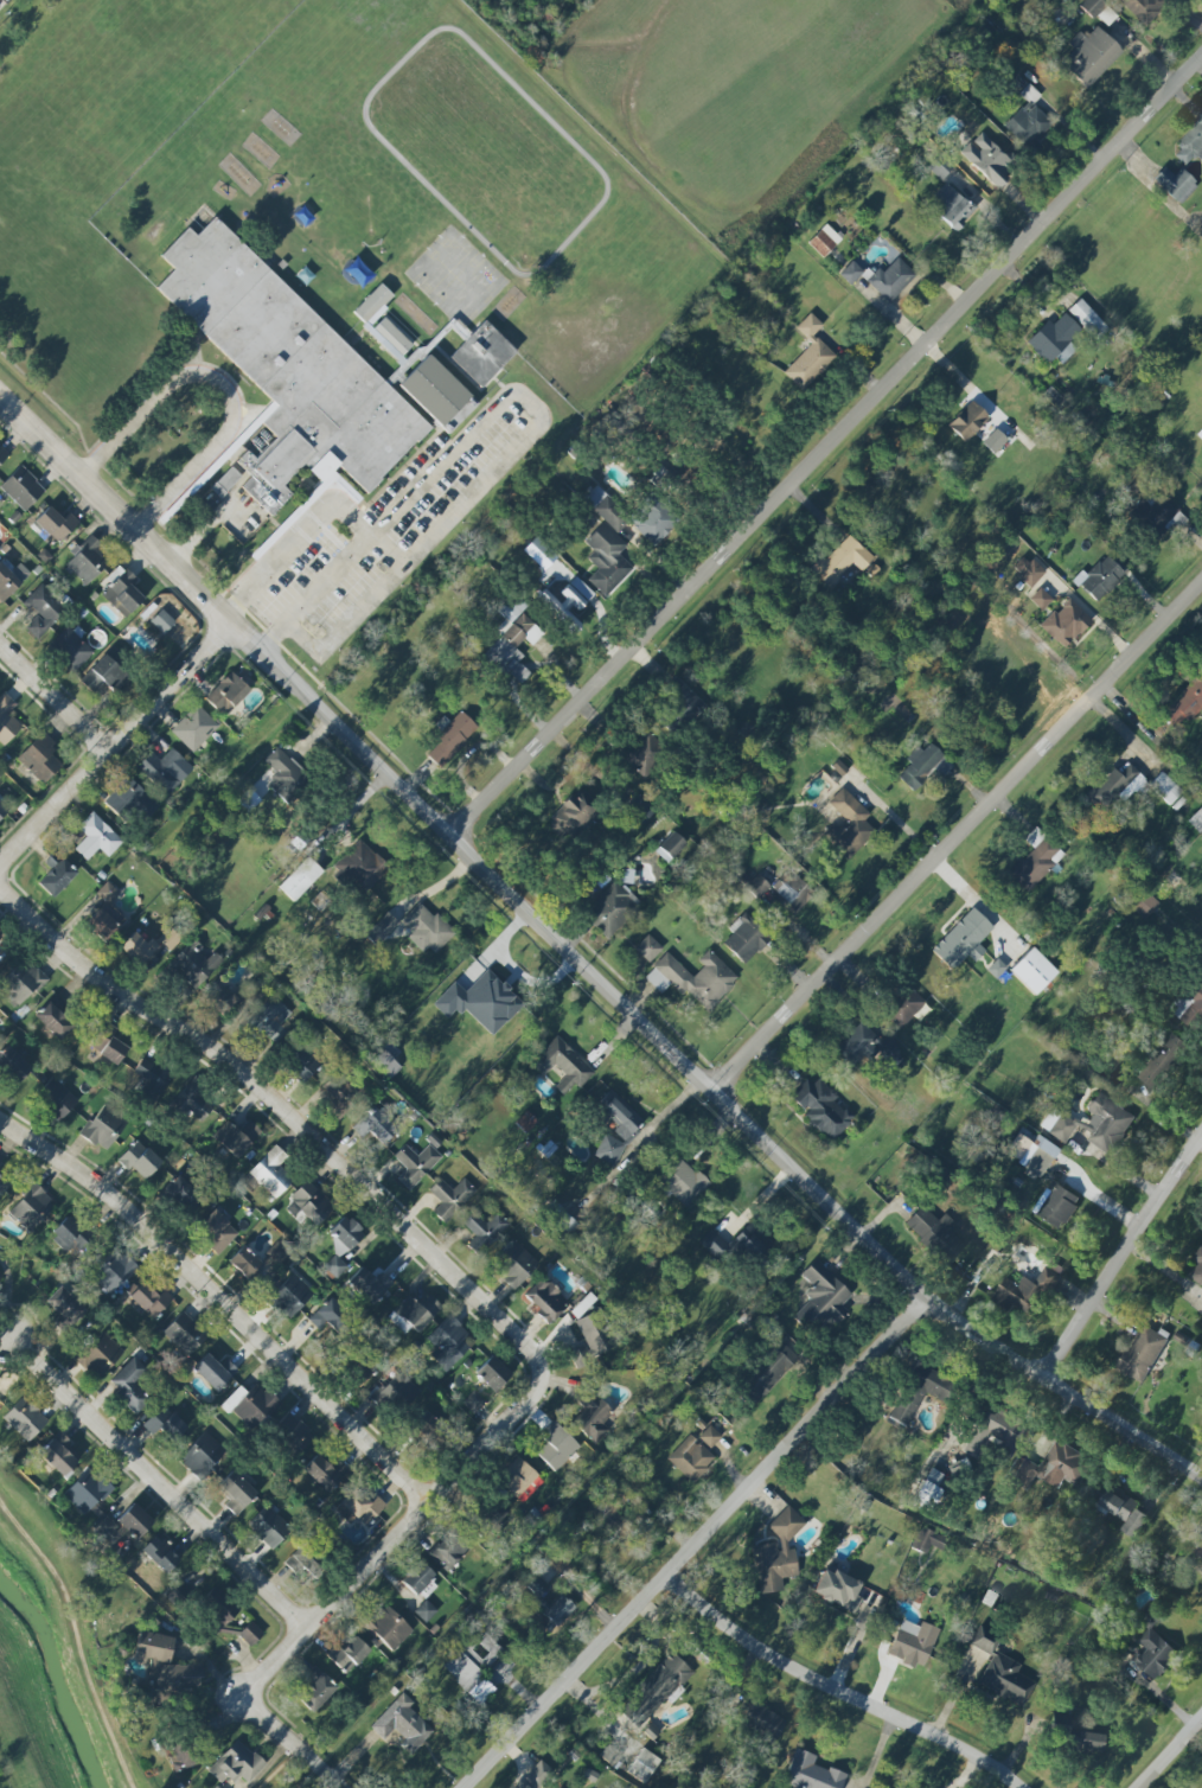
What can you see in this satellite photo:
building: (1144, 8)
building: (1098, 9)
building: (1089, 56)
road: (1201, 66)
building: (1028, 120)
building: (1189, 146)
building: (987, 160)
building: (1175, 184)
building: (952, 207)
building: (824, 241)
building: (850, 273)
building: (890, 280)
building: (1087, 319)
building: (381, 321)
building: (1054, 340)
building: (482, 353)
building: (808, 356)
building: (288, 371)
road: (220, 383)
building: (434, 390)
road: (513, 394)
building: (967, 421)
building: (1200, 434)
building: (993, 441)
road: (827, 451)
building: (2, 454)
building: (225, 483)
building: (21, 488)
building: (1155, 517)
road: (308, 521)
building: (653, 521)
building: (53, 525)
road: (207, 525)
building: (607, 545)
building: (89, 561)
building: (840, 561)
building: (1027, 570)
building: (1099, 579)
building: (11, 580)
building: (122, 592)
building: (1041, 599)
building: (567, 602)
building: (43, 611)
road: (260, 612)
building: (161, 621)
building: (1064, 622)
road: (301, 639)
building: (512, 640)
building: (70, 647)
building: (104, 675)
road: (53, 694)
building: (226, 694)
building: (680, 700)
building: (1183, 704)
building: (7, 720)
building: (194, 728)
building: (449, 736)
road: (114, 740)
building: (642, 754)
building: (39, 759)
building: (923, 765)
building: (165, 770)
building: (284, 775)
building: (1164, 787)
building: (1115, 788)
building: (247, 799)
building: (133, 803)
building: (2, 809)
building: (639, 809)
road: (351, 813)
building: (571, 816)
building: (1196, 819)
building: (848, 825)
building: (96, 837)
road: (959, 843)
building: (669, 847)
building: (1035, 860)
building: (362, 866)
building: (56, 874)
building: (300, 879)
building: (757, 886)
building: (791, 890)
building: (108, 893)
building: (610, 908)
building: (102, 925)
building: (382, 928)
building: (427, 928)
building: (0, 934)
building: (170, 938)
building: (746, 938)
building: (963, 940)
building: (136, 947)
building: (647, 947)
road: (580, 960)
building: (194, 964)
building: (1032, 971)
building: (693, 978)
building: (21, 982)
building: (219, 1000)
building: (480, 1002)
building: (903, 1005)
building: (55, 1017)
building: (268, 1021)
building: (108, 1043)
building: (869, 1048)
building: (300, 1062)
building: (381, 1062)
building: (1162, 1064)
building: (13, 1065)
building: (562, 1066)
building: (152, 1078)
building: (341, 1096)
building: (56, 1098)
building: (188, 1103)
building: (819, 1107)
road: (288, 1113)
building: (525, 1122)
building: (1093, 1124)
building: (375, 1125)
building: (103, 1126)
building: (616, 1129)
building: (236, 1137)
building: (1031, 1155)
building: (139, 1160)
building: (415, 1163)
building: (4, 1180)
building: (683, 1181)
building: (450, 1198)
building: (309, 1203)
building: (1056, 1206)
building: (31, 1207)
building: (557, 1218)
building: (216, 1231)
building: (484, 1231)
building: (935, 1233)
building: (71, 1237)
building: (341, 1244)
building: (737, 1246)
building: (277, 1252)
road: (1125, 1257)
building: (244, 1263)
building: (512, 1263)
building: (1197, 1269)
building: (113, 1270)
building: (0, 1275)
building: (366, 1285)
building: (1027, 1289)
building: (289, 1296)
building: (823, 1297)
building: (149, 1300)
building: (545, 1300)
road: (217, 1301)
building: (64, 1307)
building: (413, 1313)
building: (328, 1316)
building: (592, 1326)
building: (184, 1334)
building: (447, 1342)
building: (1143, 1354)
building: (100, 1355)
building: (354, 1365)
building: (213, 1372)
building: (763, 1372)
building: (492, 1373)
building: (129, 1384)
building: (391, 1391)
building: (916, 1391)
building: (472, 1401)
building: (250, 1405)
building: (593, 1418)
building: (24, 1419)
building: (164, 1424)
building: (426, 1430)
building: (292, 1432)
building: (709, 1436)
building: (555, 1447)
building: (57, 1454)
building: (202, 1455)
building: (690, 1457)
building: (1054, 1467)
building: (320, 1473)
building: (514, 1476)
road: (153, 1479)
building: (528, 1489)
building: (87, 1490)
building: (235, 1493)
road: (415, 1503)
building: (358, 1507)
building: (1125, 1511)
building: (134, 1520)
building: (268, 1527)
building: (106, 1531)
building: (926, 1539)
road: (692, 1541)
building: (448, 1550)
building: (1198, 1551)
building: (160, 1553)
building: (776, 1553)
building: (303, 1559)
building: (417, 1576)
building: (837, 1590)
building: (537, 1591)
building: (557, 1609)
building: (217, 1610)
building: (424, 1611)
building: (388, 1628)
building: (250, 1634)
road: (75, 1641)
building: (910, 1643)
building: (347, 1654)
building: (1155, 1654)
building: (165, 1664)
building: (473, 1667)
building: (1000, 1669)
building: (315, 1688)
road: (830, 1691)
building: (653, 1692)
road: (257, 1711)
building: (761, 1720)
building: (402, 1724)
road: (1170, 1754)
building: (181, 1756)
building: (237, 1764)
building: (642, 1765)
road: (277, 1768)
building: (810, 1773)
building: (537, 1774)
building: (518, 1786)
building: (215, 1787)
building: (554, 1787)

